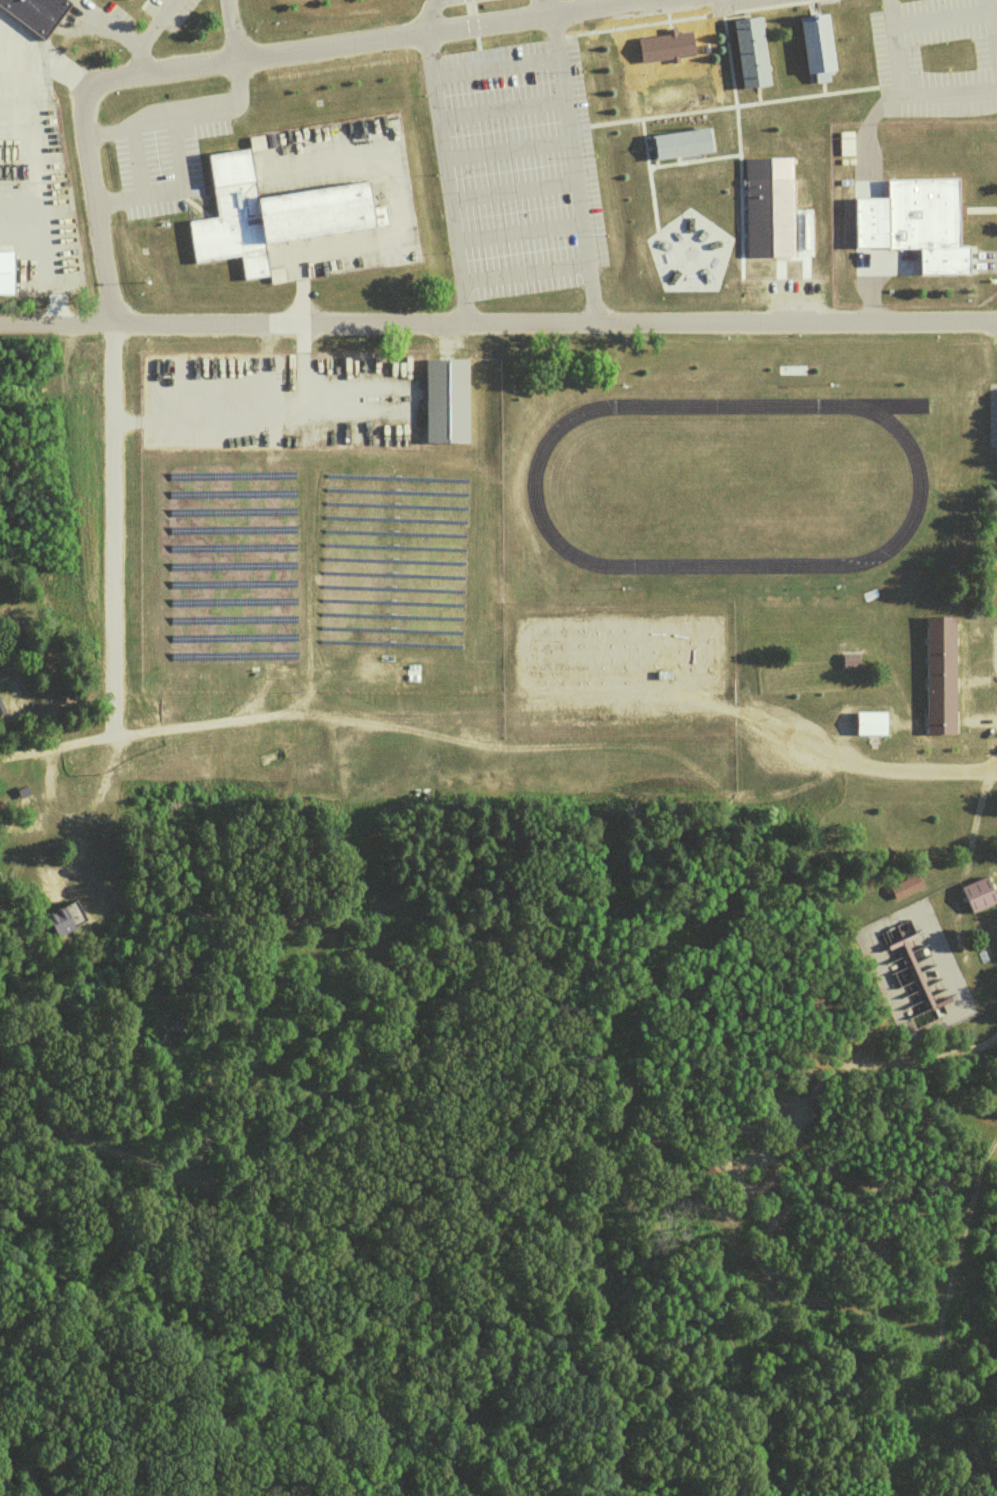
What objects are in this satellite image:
building: (88, 0)
building: (127, 2)
road: (544, 7)
road: (427, 14)
building: (33, 15)
road: (885, 15)
road: (992, 24)
road: (231, 29)
road: (145, 33)
road: (367, 39)
building: (669, 39)
building: (818, 43)
building: (753, 55)
parking lot: (934, 56)
road: (892, 57)
road: (42, 60)
road: (493, 67)
road: (499, 105)
road: (178, 112)
building: (682, 144)
road: (505, 150)
road: (573, 167)
parking lot: (513, 168)
road: (443, 176)
road: (135, 181)
road: (511, 190)
road: (95, 206)
building: (768, 207)
building: (267, 219)
building: (927, 226)
road: (516, 232)
building: (5, 271)
road: (522, 272)
road: (498, 321)
track: (889, 403)
building: (447, 404)
parking lot: (991, 413)
track: (725, 484)
building: (942, 677)
road: (503, 712)
road: (82, 839)
building: (977, 893)
building: (63, 917)
road: (988, 1038)
road: (324, 1230)

